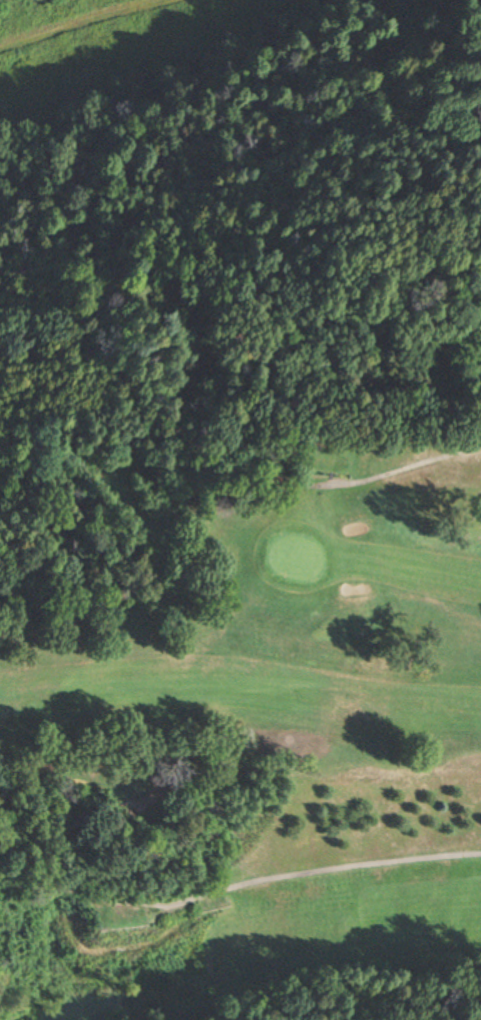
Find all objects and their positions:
road: (388, 473)
park: (245, 718)
road: (239, 886)

